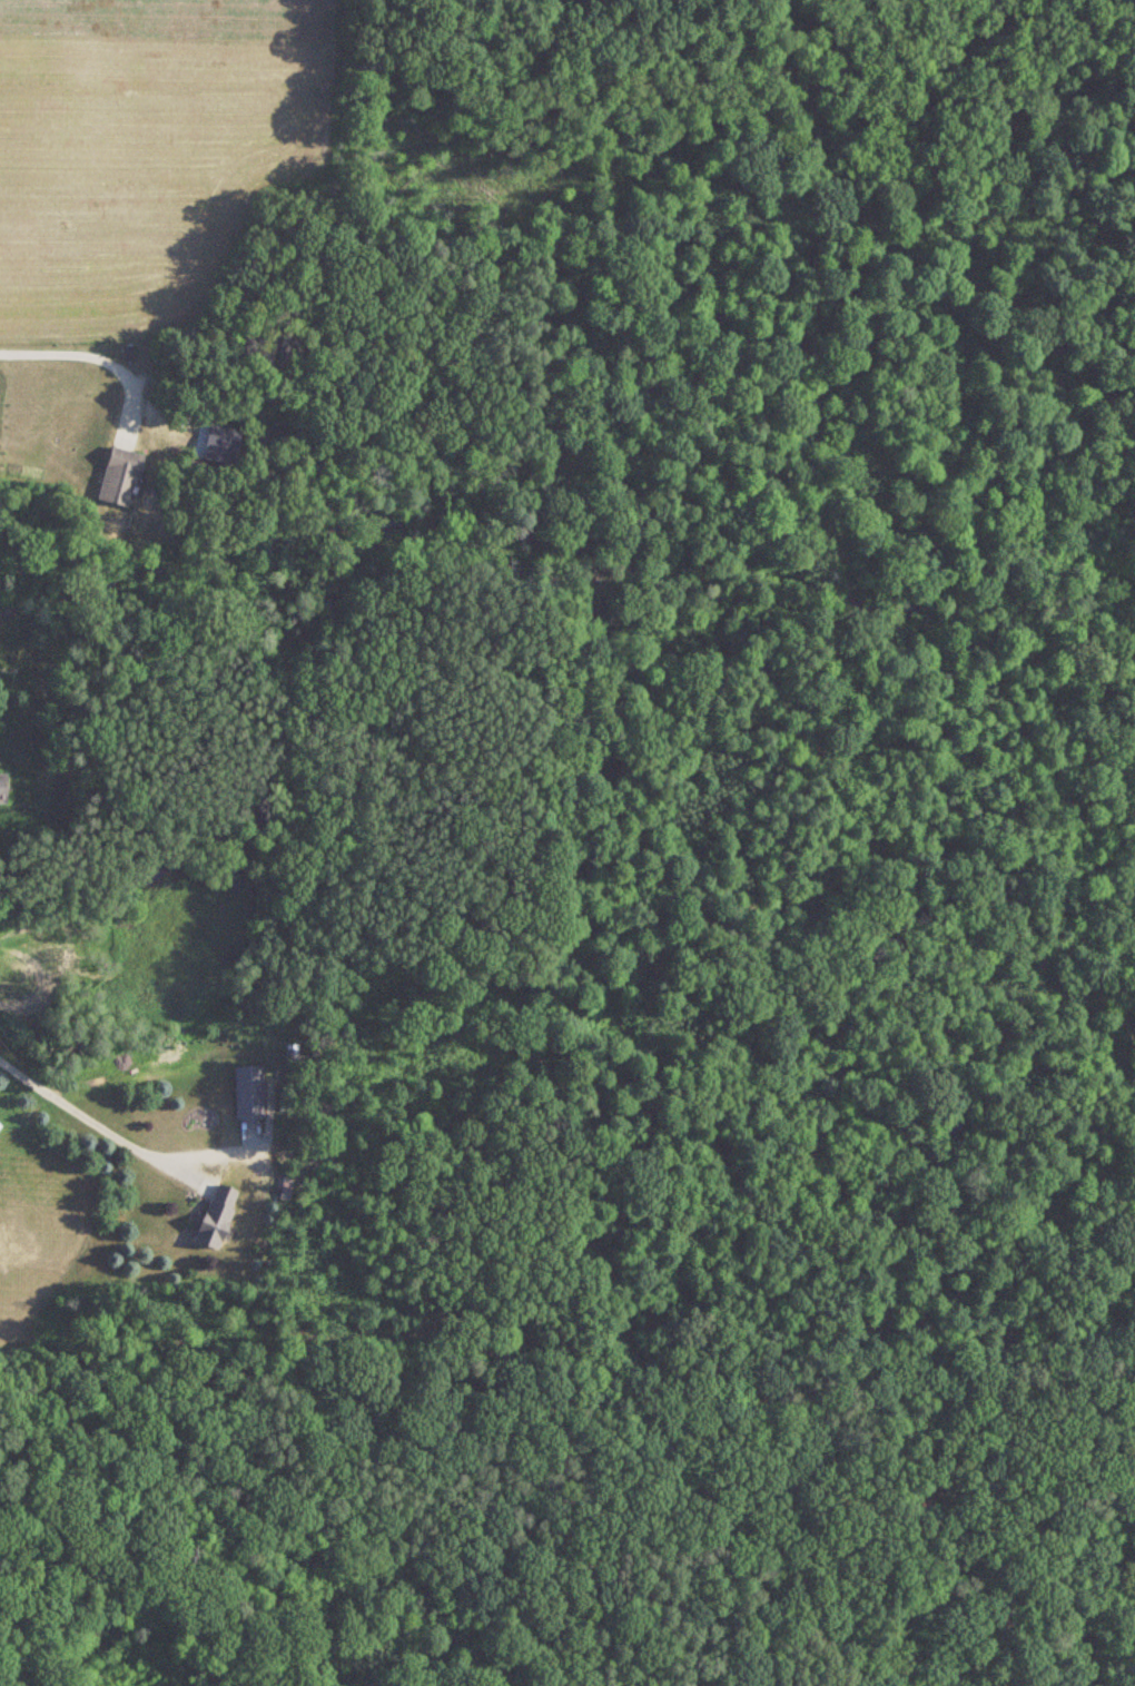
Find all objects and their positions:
road: (86, 353)
building: (122, 476)
building: (4, 789)
building: (250, 1093)
road: (82, 1113)
building: (0, 1126)
building: (219, 1215)

